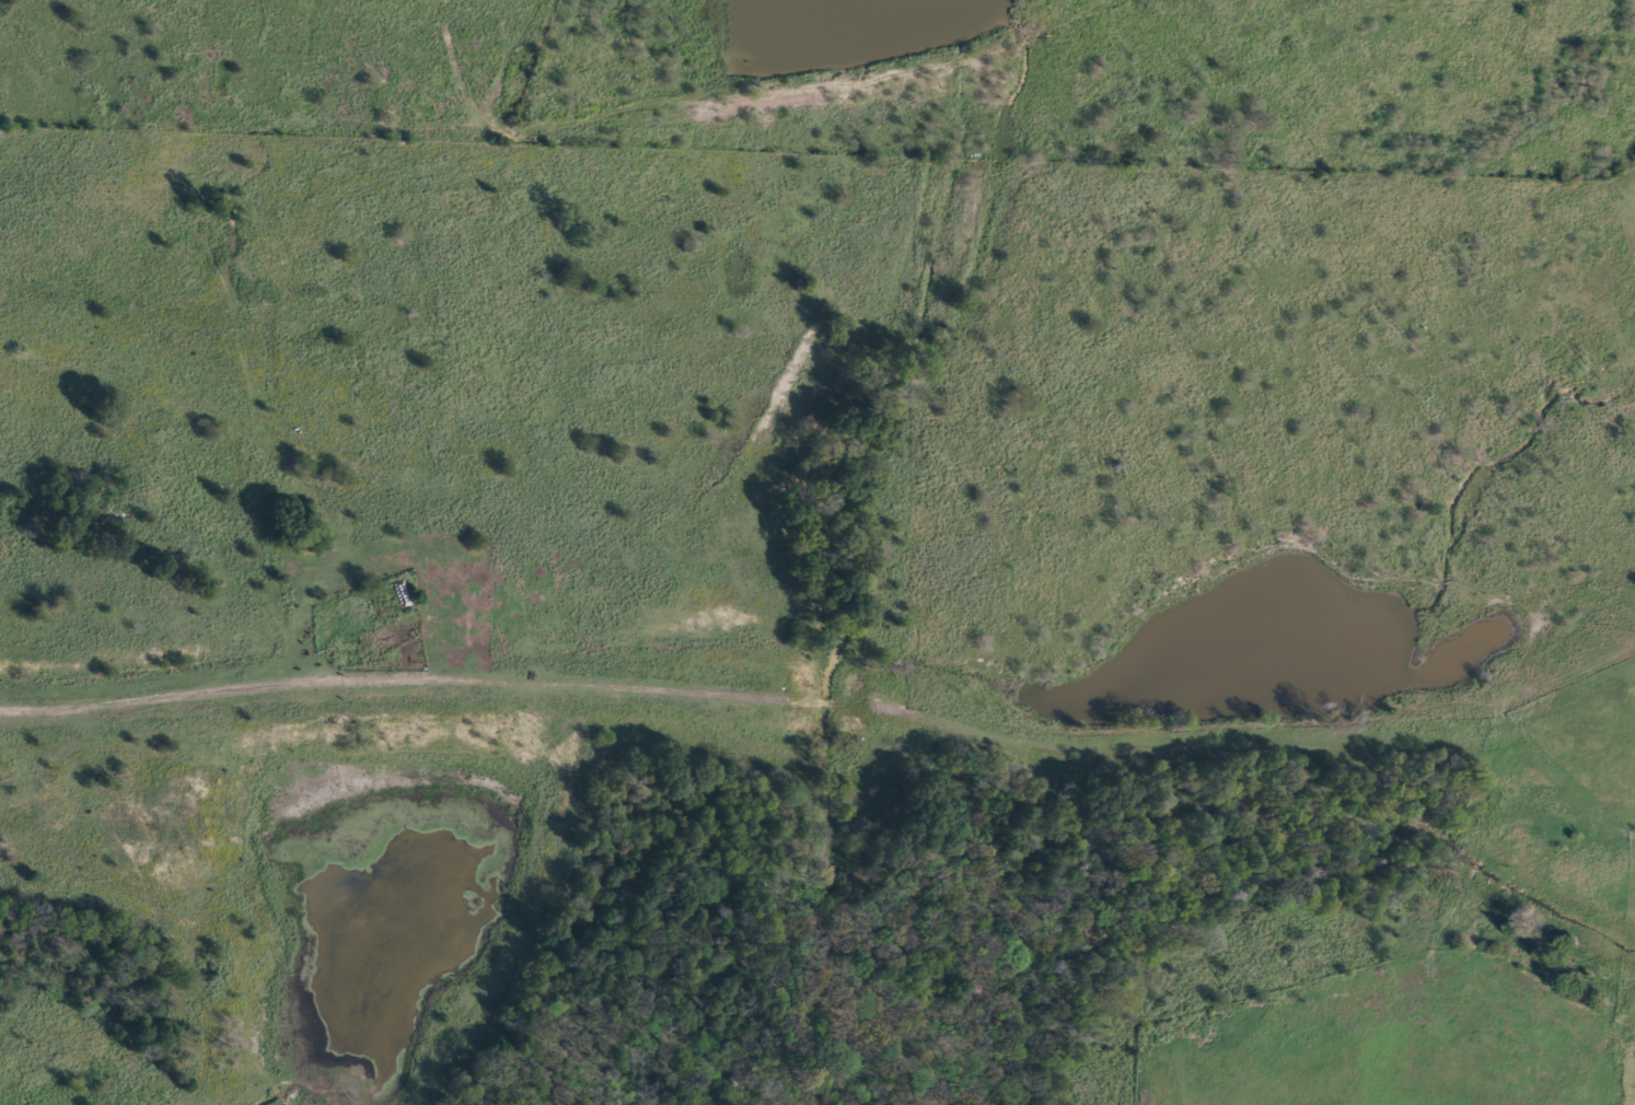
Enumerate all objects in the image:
road: (688, 702)
road: (1504, 702)

